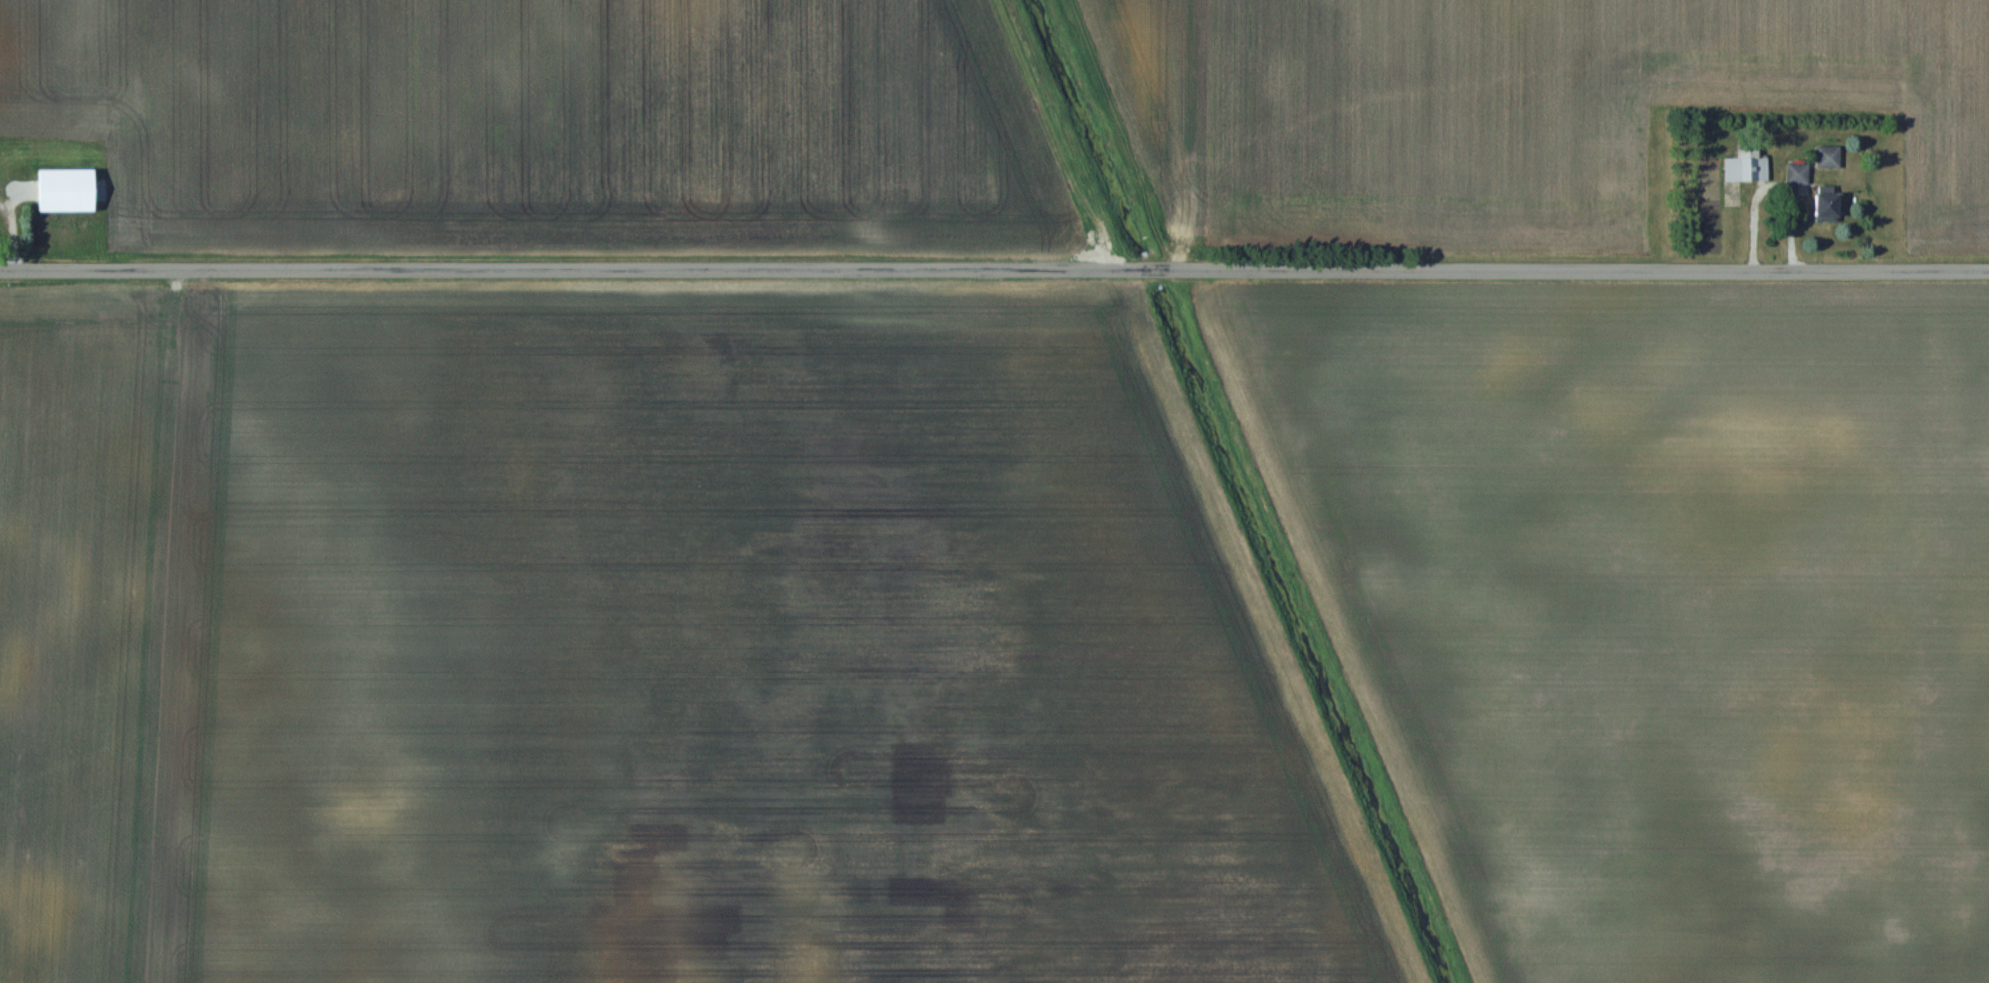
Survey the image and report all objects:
building: (1825, 157)
building: (1743, 169)
building: (1794, 173)
building: (1822, 204)
building: (61, 218)
road: (994, 268)

